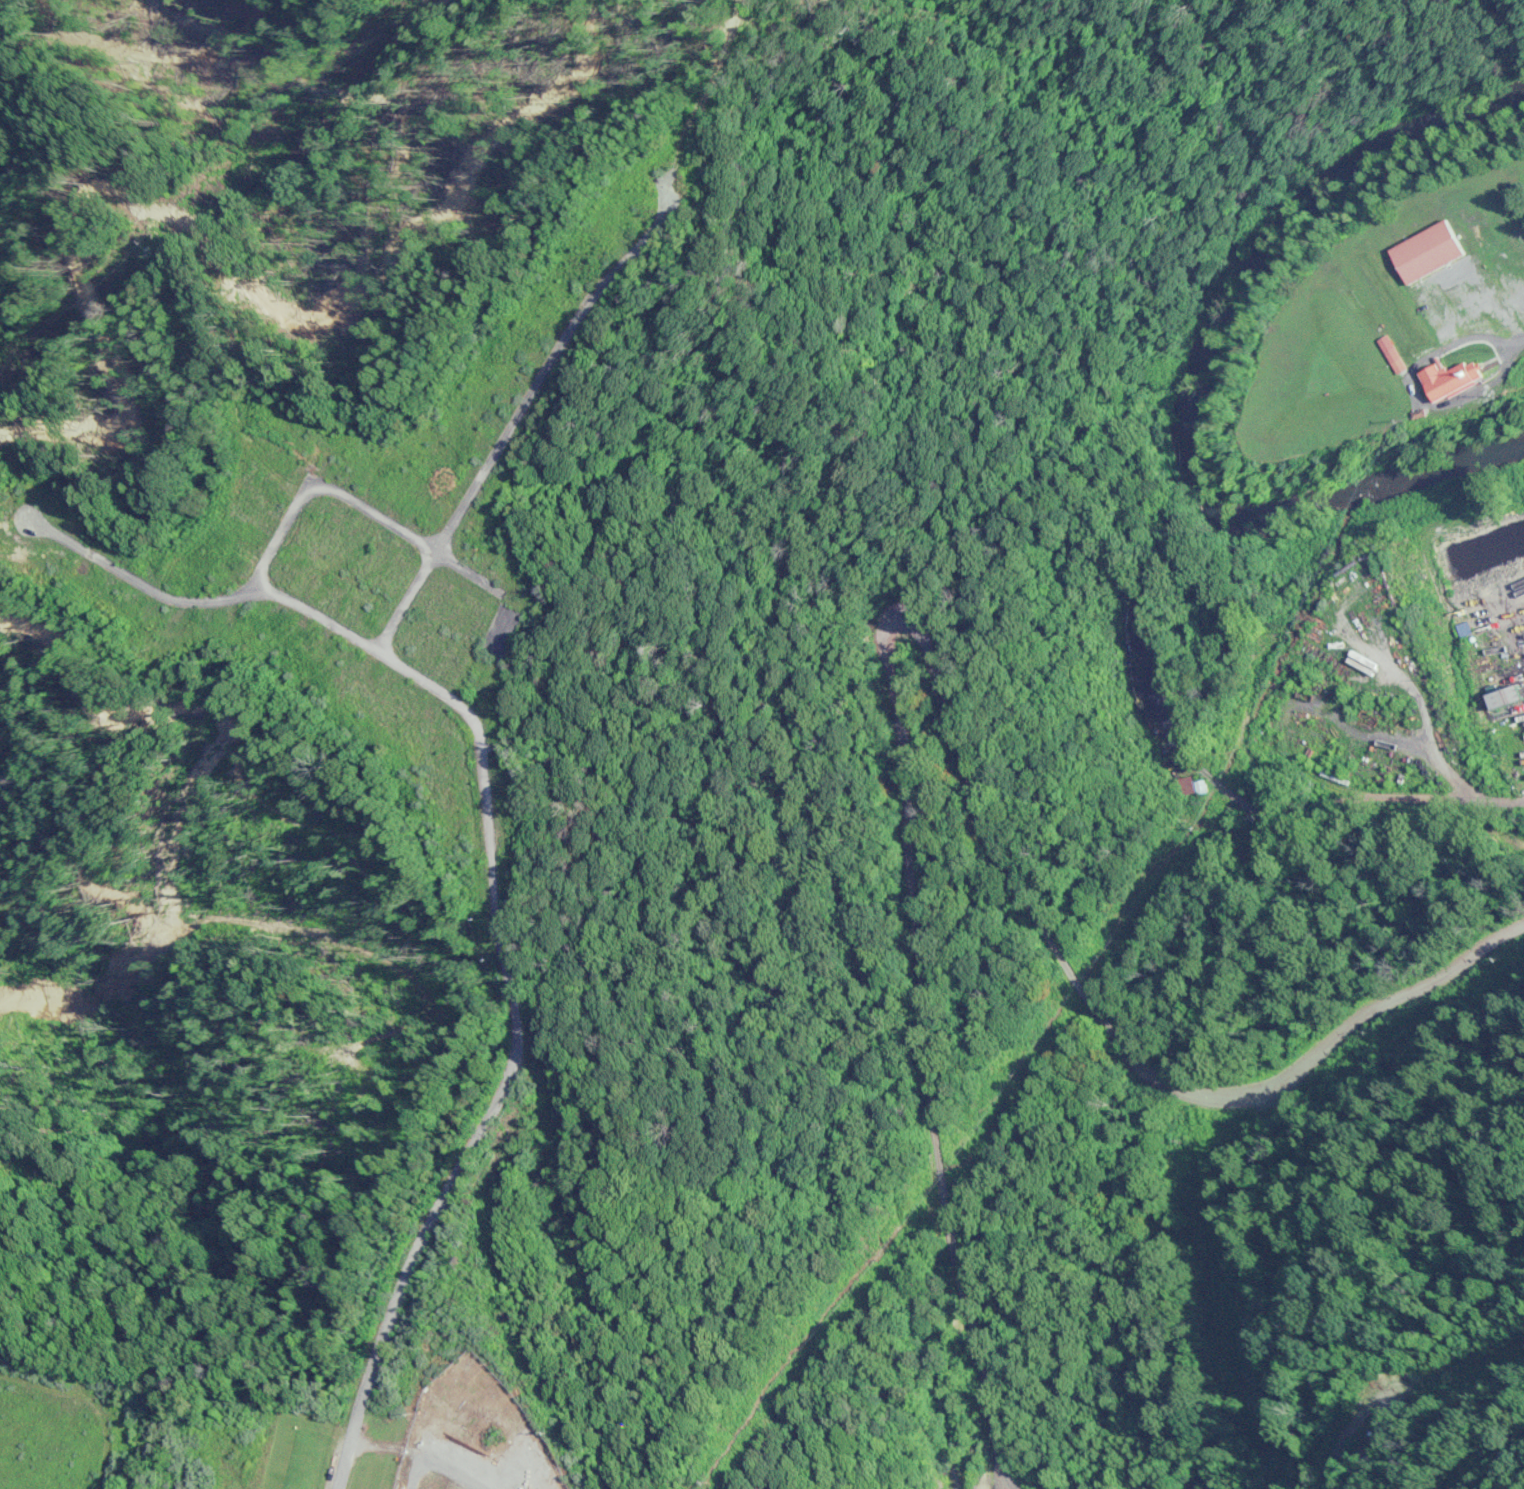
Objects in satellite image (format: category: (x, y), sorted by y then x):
building: (1448, 366)
building: (1443, 380)
river: (1190, 381)
road: (1407, 518)
road: (1423, 657)
building: (1502, 696)
building: (435, 750)
road: (1423, 761)
building: (498, 773)
building: (1191, 786)
road: (1409, 844)

